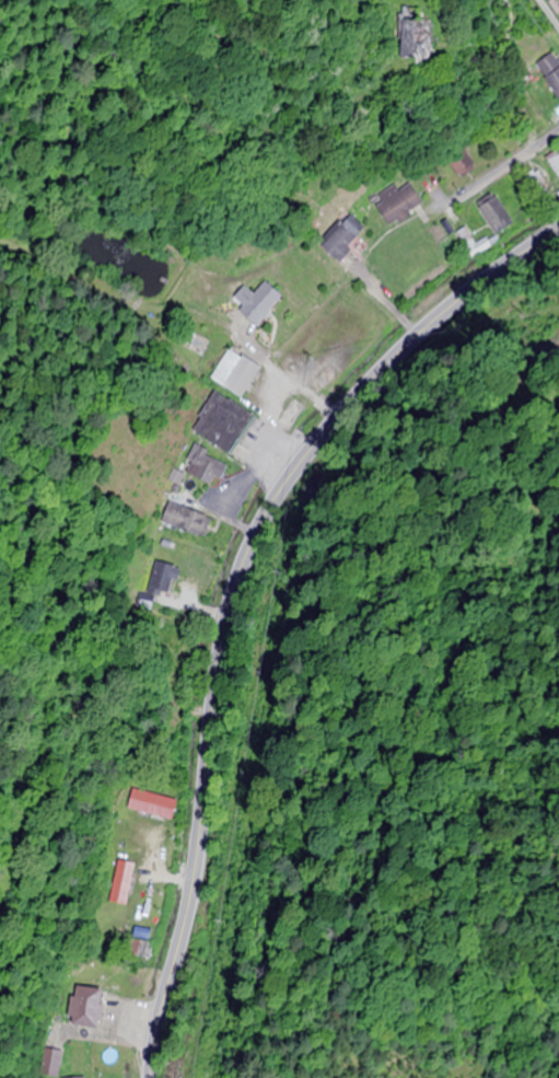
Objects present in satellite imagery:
road: (549, 12)
building: (397, 39)
building: (549, 73)
building: (555, 162)
building: (458, 164)
road: (498, 170)
building: (395, 206)
building: (494, 215)
building: (340, 237)
building: (473, 244)
building: (253, 303)
building: (234, 374)
building: (220, 425)
building: (186, 521)
road: (234, 591)
building: (141, 805)
building: (142, 904)
building: (82, 1008)

